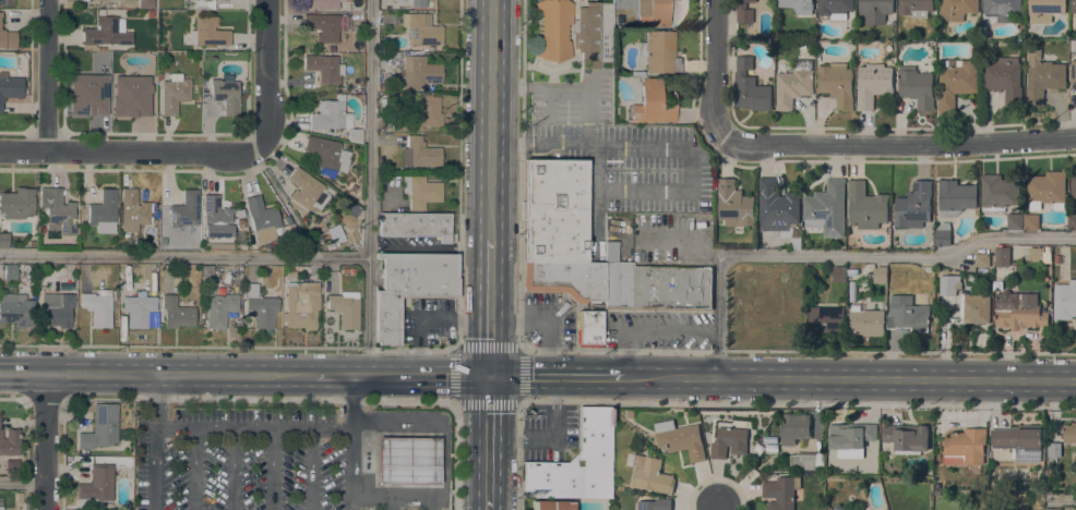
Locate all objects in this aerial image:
building: (115, 0)
building: (7, 2)
building: (145, 3)
building: (417, 3)
building: (203, 4)
building: (321, 4)
building: (681, 5)
building: (798, 5)
building: (1073, 7)
building: (835, 8)
building: (916, 8)
building: (957, 9)
building: (1002, 9)
building: (875, 10)
building: (1044, 10)
building: (656, 11)
building: (744, 11)
building: (150, 14)
building: (326, 26)
building: (421, 29)
building: (553, 29)
building: (105, 33)
building: (210, 33)
building: (593, 34)
building: (8, 39)
building: (803, 45)
building: (1073, 45)
building: (331, 49)
building: (659, 52)
building: (388, 54)
building: (323, 68)
road: (718, 70)
building: (1073, 72)
building: (419, 73)
road: (47, 76)
building: (158, 77)
building: (1042, 77)
building: (1004, 78)
building: (796, 81)
building: (956, 82)
building: (836, 84)
building: (873, 84)
building: (917, 86)
building: (107, 87)
building: (751, 87)
building: (10, 88)
building: (134, 94)
building: (174, 94)
building: (225, 94)
building: (88, 95)
building: (107, 95)
building: (647, 102)
building: (425, 114)
building: (330, 117)
road: (490, 120)
building: (355, 136)
road: (898, 147)
road: (205, 153)
building: (327, 154)
building: (420, 154)
building: (1074, 185)
building: (1047, 187)
building: (352, 189)
road: (368, 189)
building: (714, 189)
building: (307, 191)
building: (421, 193)
building: (997, 193)
building: (955, 197)
building: (16, 204)
building: (734, 205)
building: (776, 206)
building: (865, 206)
building: (913, 206)
building: (826, 208)
building: (184, 209)
building: (349, 209)
building: (133, 211)
building: (554, 211)
building: (57, 212)
building: (103, 212)
building: (240, 215)
building: (215, 218)
building: (261, 219)
building: (1015, 221)
building: (1031, 221)
building: (1071, 221)
building: (240, 223)
building: (415, 226)
building: (334, 233)
building: (943, 234)
building: (796, 238)
building: (3, 241)
building: (32, 244)
building: (610, 252)
building: (1036, 254)
building: (1001, 256)
road: (839, 257)
road: (183, 258)
building: (1057, 258)
building: (982, 259)
building: (347, 271)
building: (10, 274)
building: (290, 274)
building: (839, 274)
building: (878, 274)
building: (578, 277)
building: (972, 280)
building: (409, 288)
building: (657, 288)
building: (852, 291)
building: (949, 292)
building: (1065, 300)
building: (300, 305)
building: (260, 307)
building: (344, 308)
road: (489, 308)
building: (977, 308)
building: (57, 309)
building: (96, 309)
building: (15, 311)
building: (138, 311)
building: (219, 311)
building: (1019, 311)
building: (176, 313)
building: (907, 313)
building: (826, 319)
road: (425, 320)
building: (865, 320)
building: (248, 324)
road: (542, 325)
building: (589, 328)
road: (519, 349)
road: (403, 350)
road: (622, 350)
road: (157, 374)
road: (400, 377)
traffic signals: (488, 377)
road: (781, 378)
road: (13, 398)
road: (44, 399)
road: (258, 399)
road: (743, 404)
building: (627, 414)
building: (99, 428)
road: (308, 428)
building: (794, 428)
building: (1069, 433)
building: (850, 438)
building: (907, 438)
building: (679, 439)
building: (769, 439)
building: (729, 440)
road: (45, 441)
road: (152, 441)
building: (1019, 441)
building: (9, 442)
road: (344, 442)
road: (488, 444)
building: (965, 447)
building: (772, 448)
building: (1054, 449)
building: (757, 450)
building: (83, 452)
building: (407, 461)
gas station: (407, 461)
building: (123, 462)
building: (806, 462)
parking lot: (247, 463)
building: (576, 463)
building: (8, 465)
road: (193, 469)
road: (234, 469)
road: (272, 469)
road: (311, 469)
building: (650, 475)
road: (22, 483)
building: (97, 485)
building: (780, 493)
road: (1062, 499)
building: (655, 505)
building: (551, 506)
building: (0, 508)
road: (716, 509)
building: (1052, 509)

